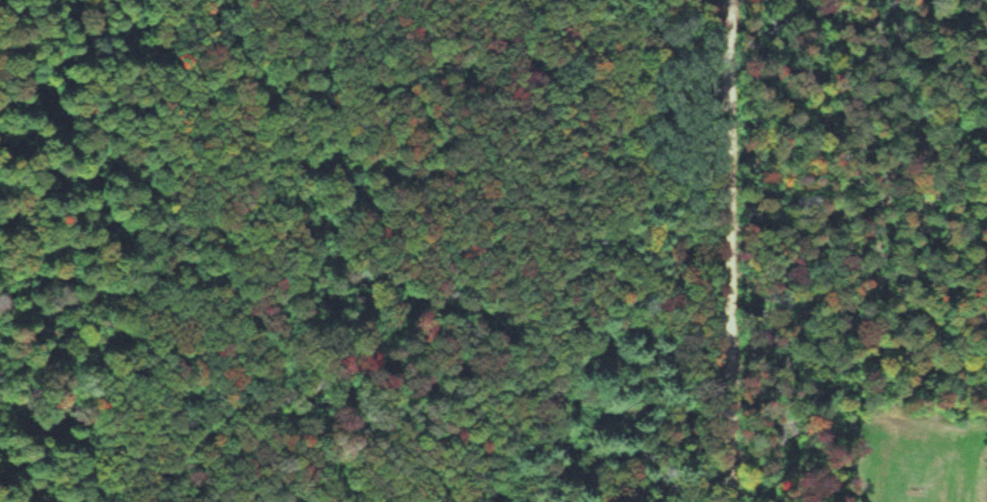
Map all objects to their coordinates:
road: (702, 247)

